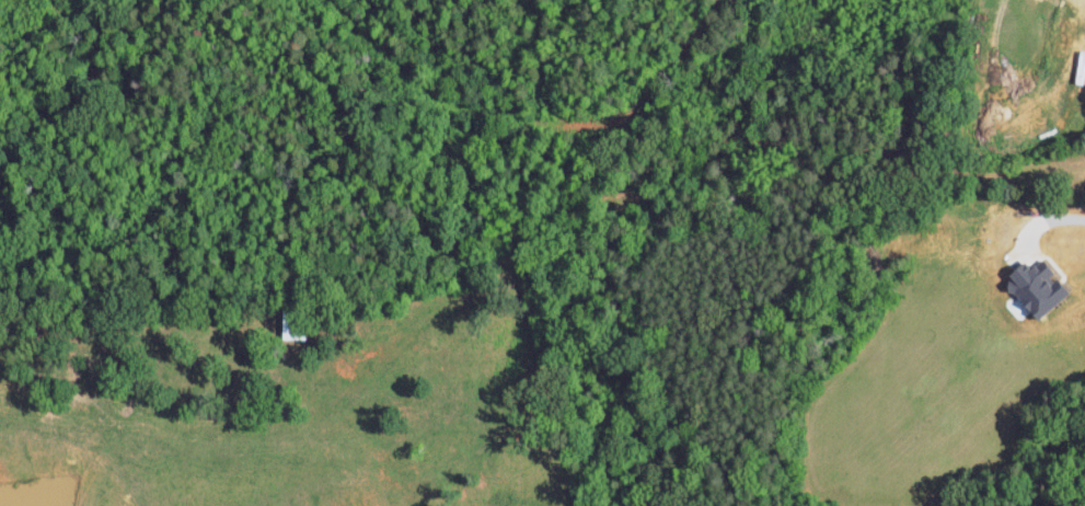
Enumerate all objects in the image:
road: (1080, 220)
building: (1032, 288)

